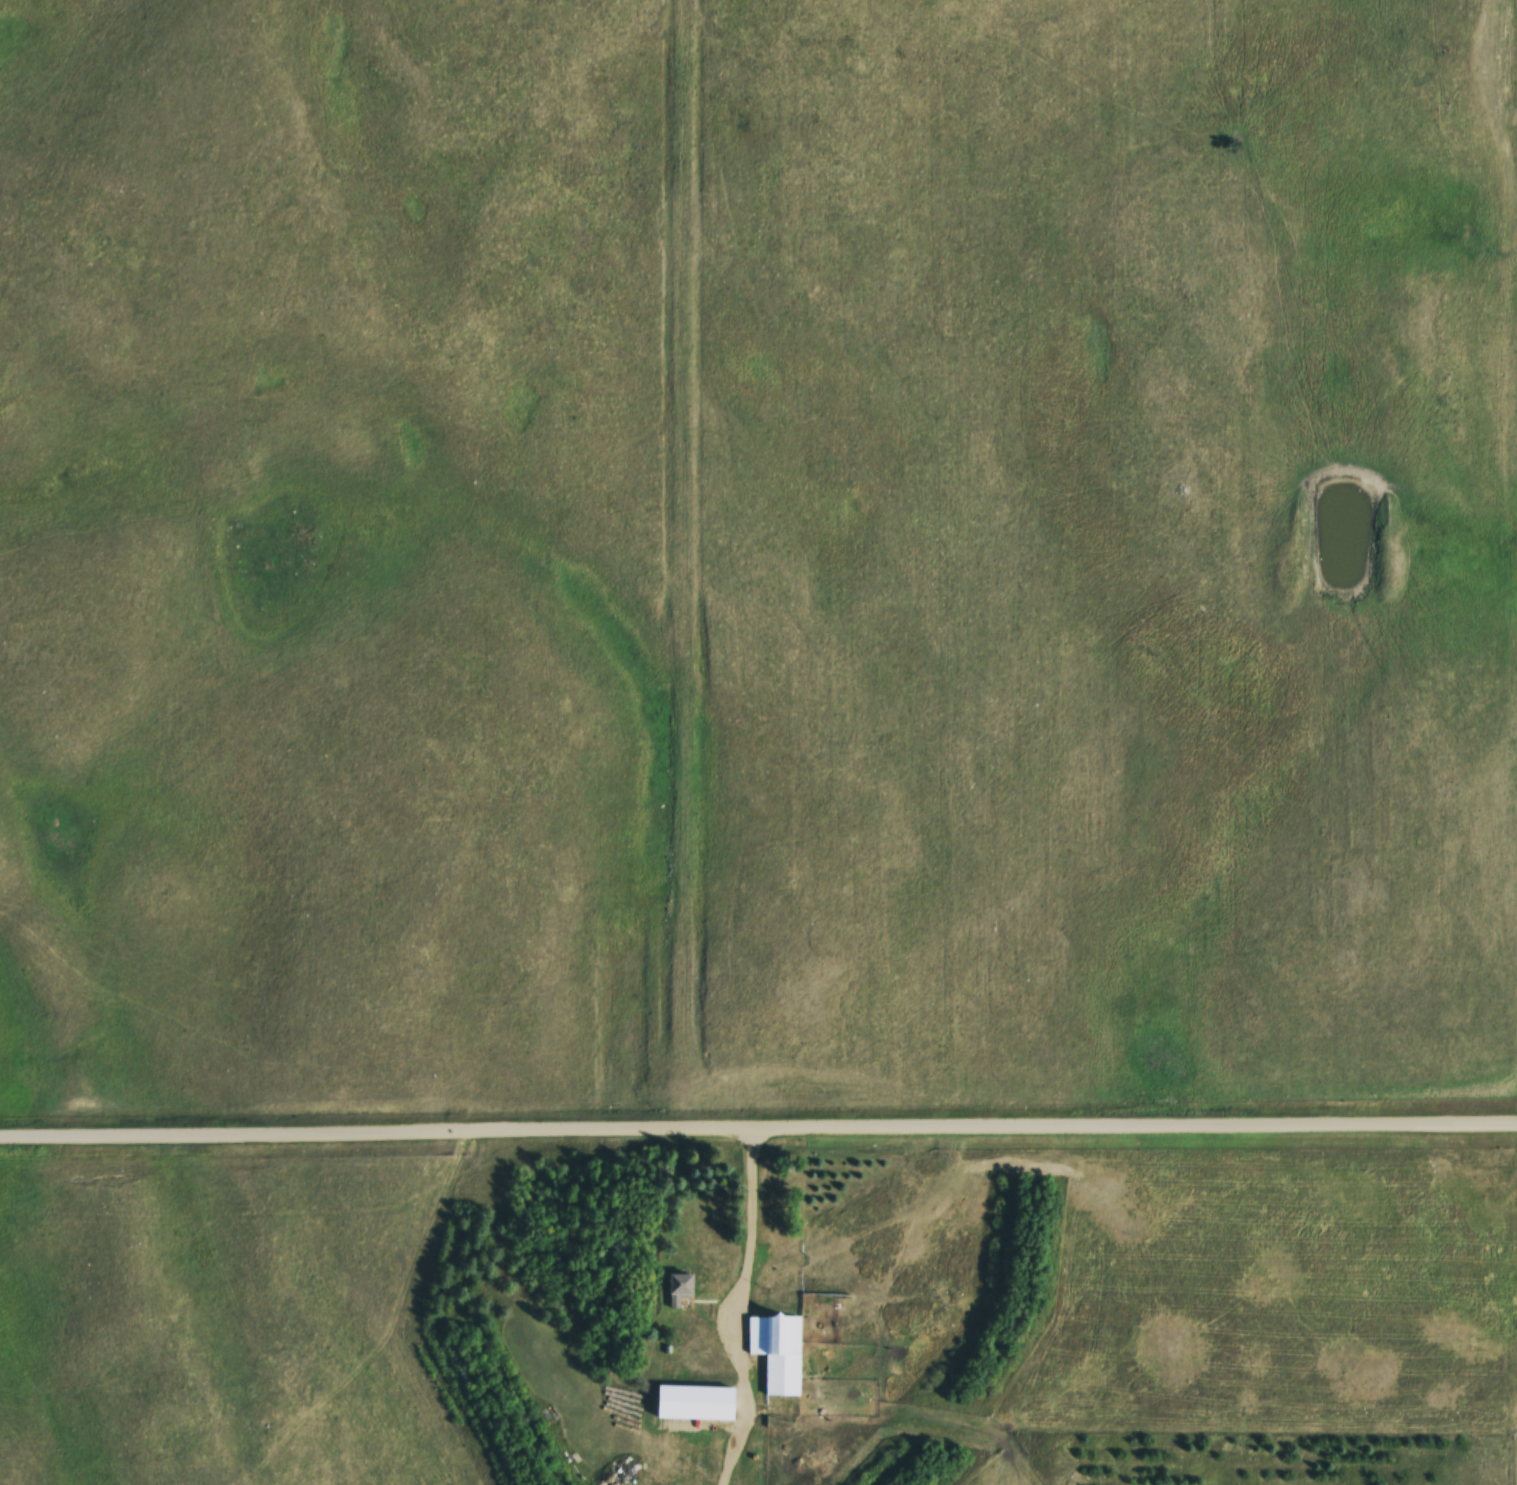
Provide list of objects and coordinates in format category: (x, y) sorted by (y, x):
road: (758, 1132)
building: (676, 1284)
building: (774, 1351)

